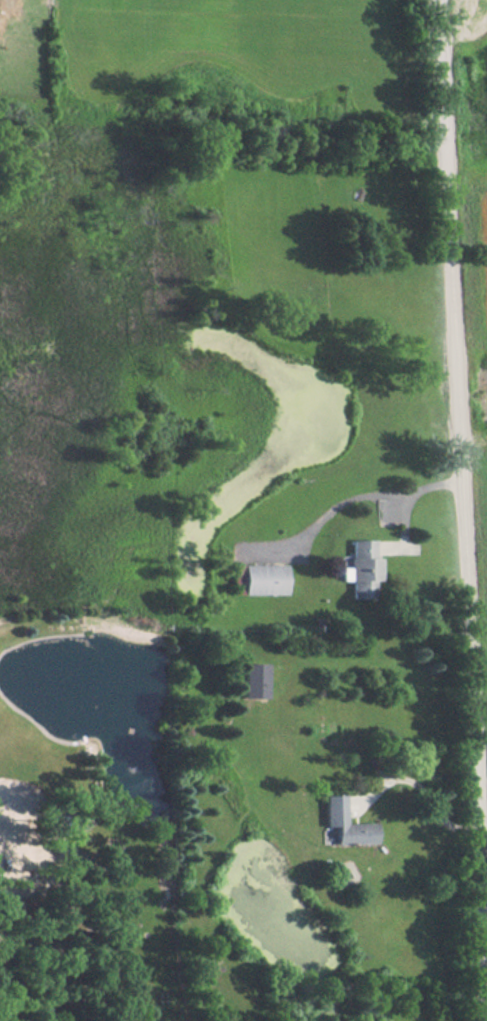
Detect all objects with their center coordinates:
road: (466, 510)
building: (358, 568)
building: (255, 580)
building: (249, 680)
road: (420, 783)
building: (339, 823)

